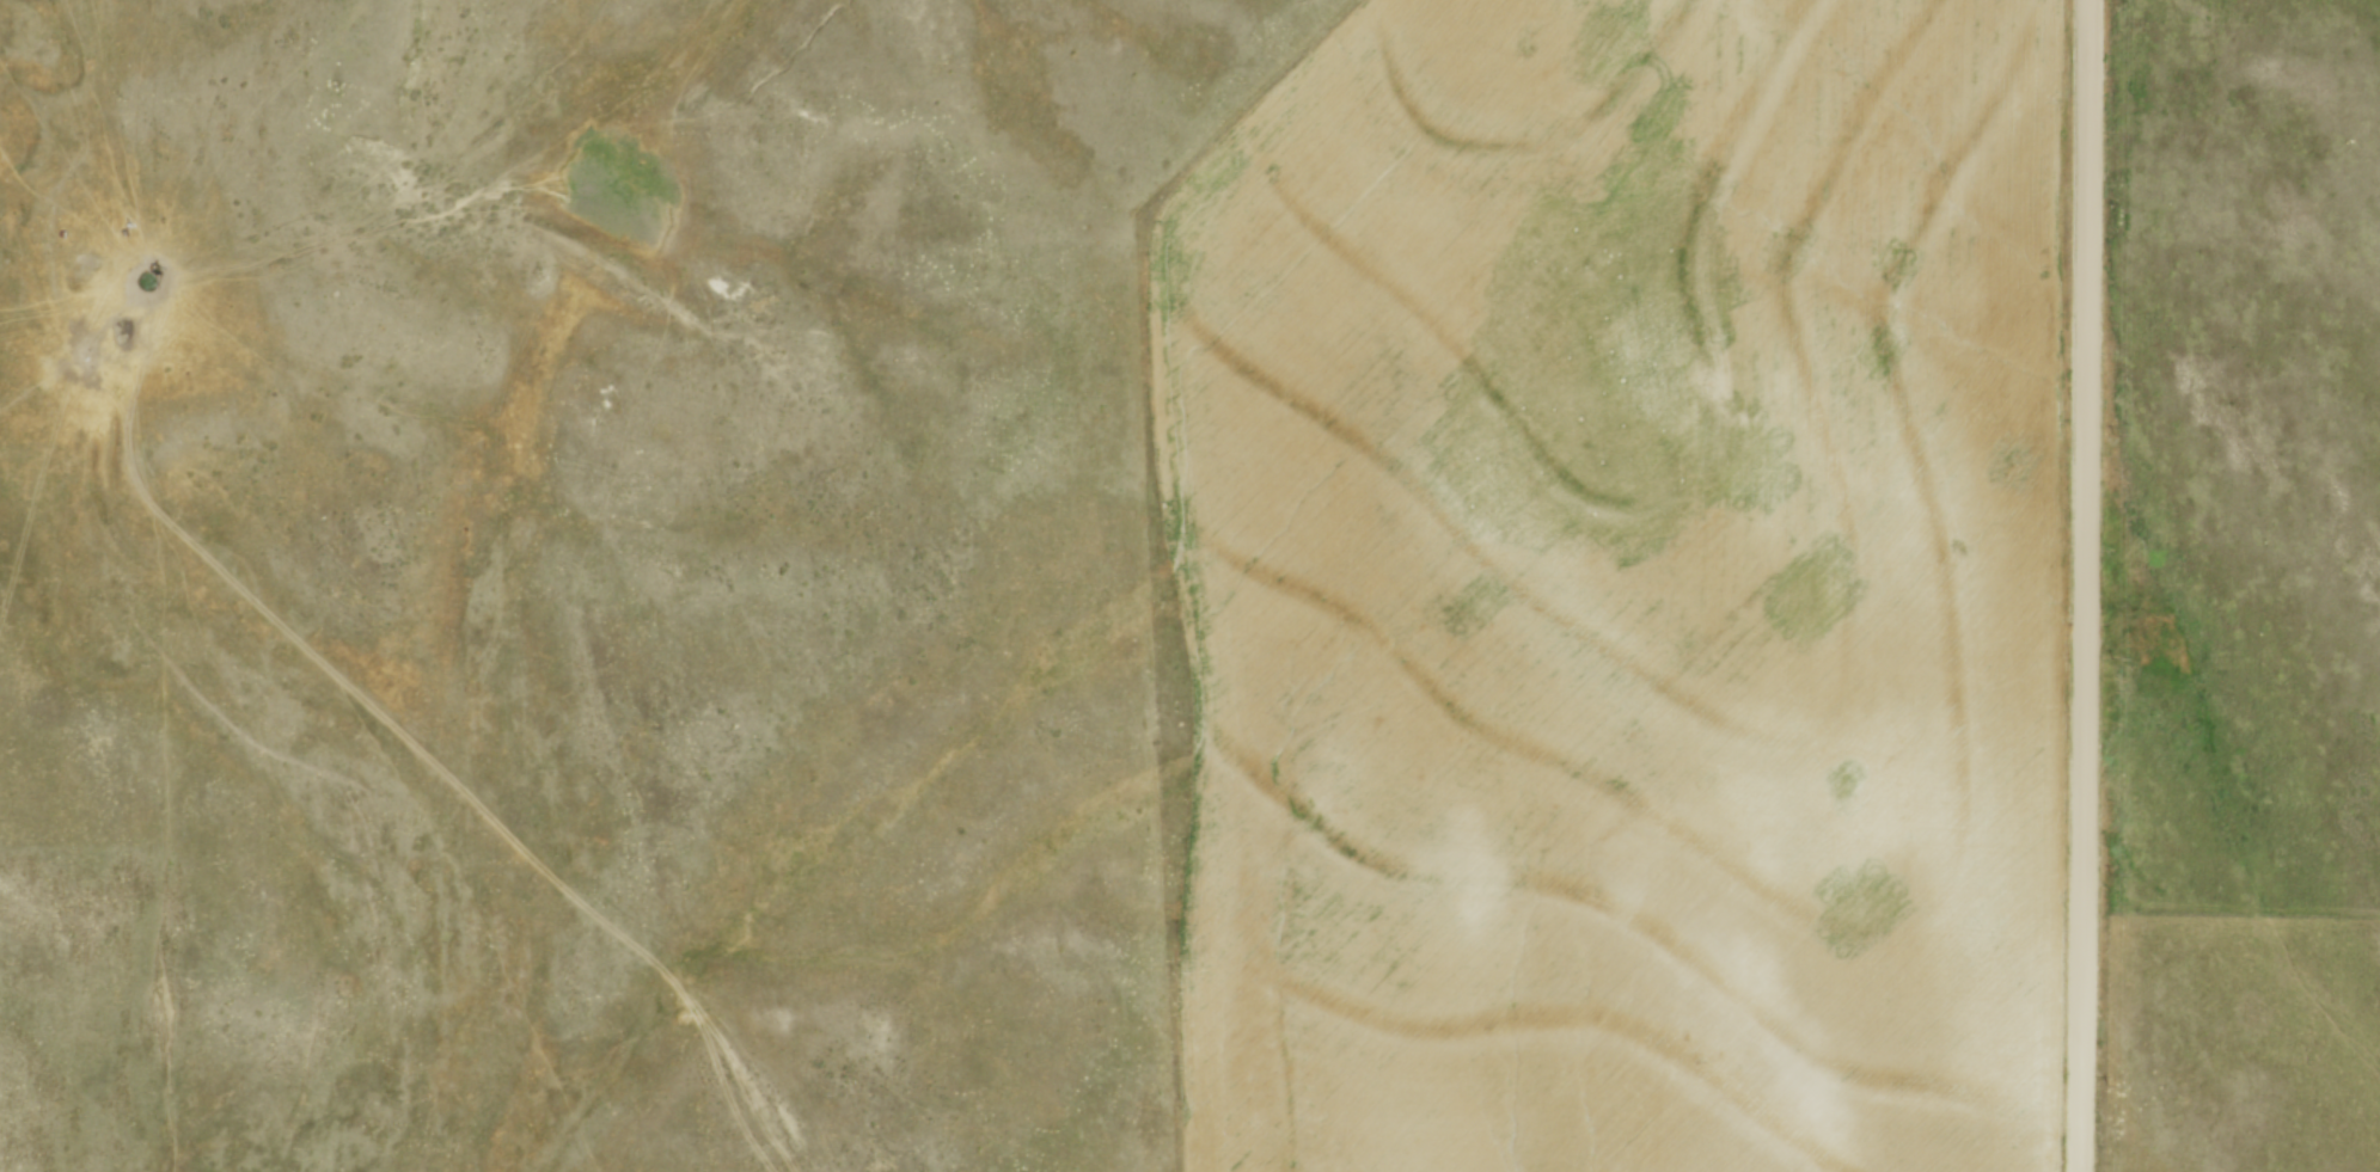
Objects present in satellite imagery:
road: (2084, 585)

